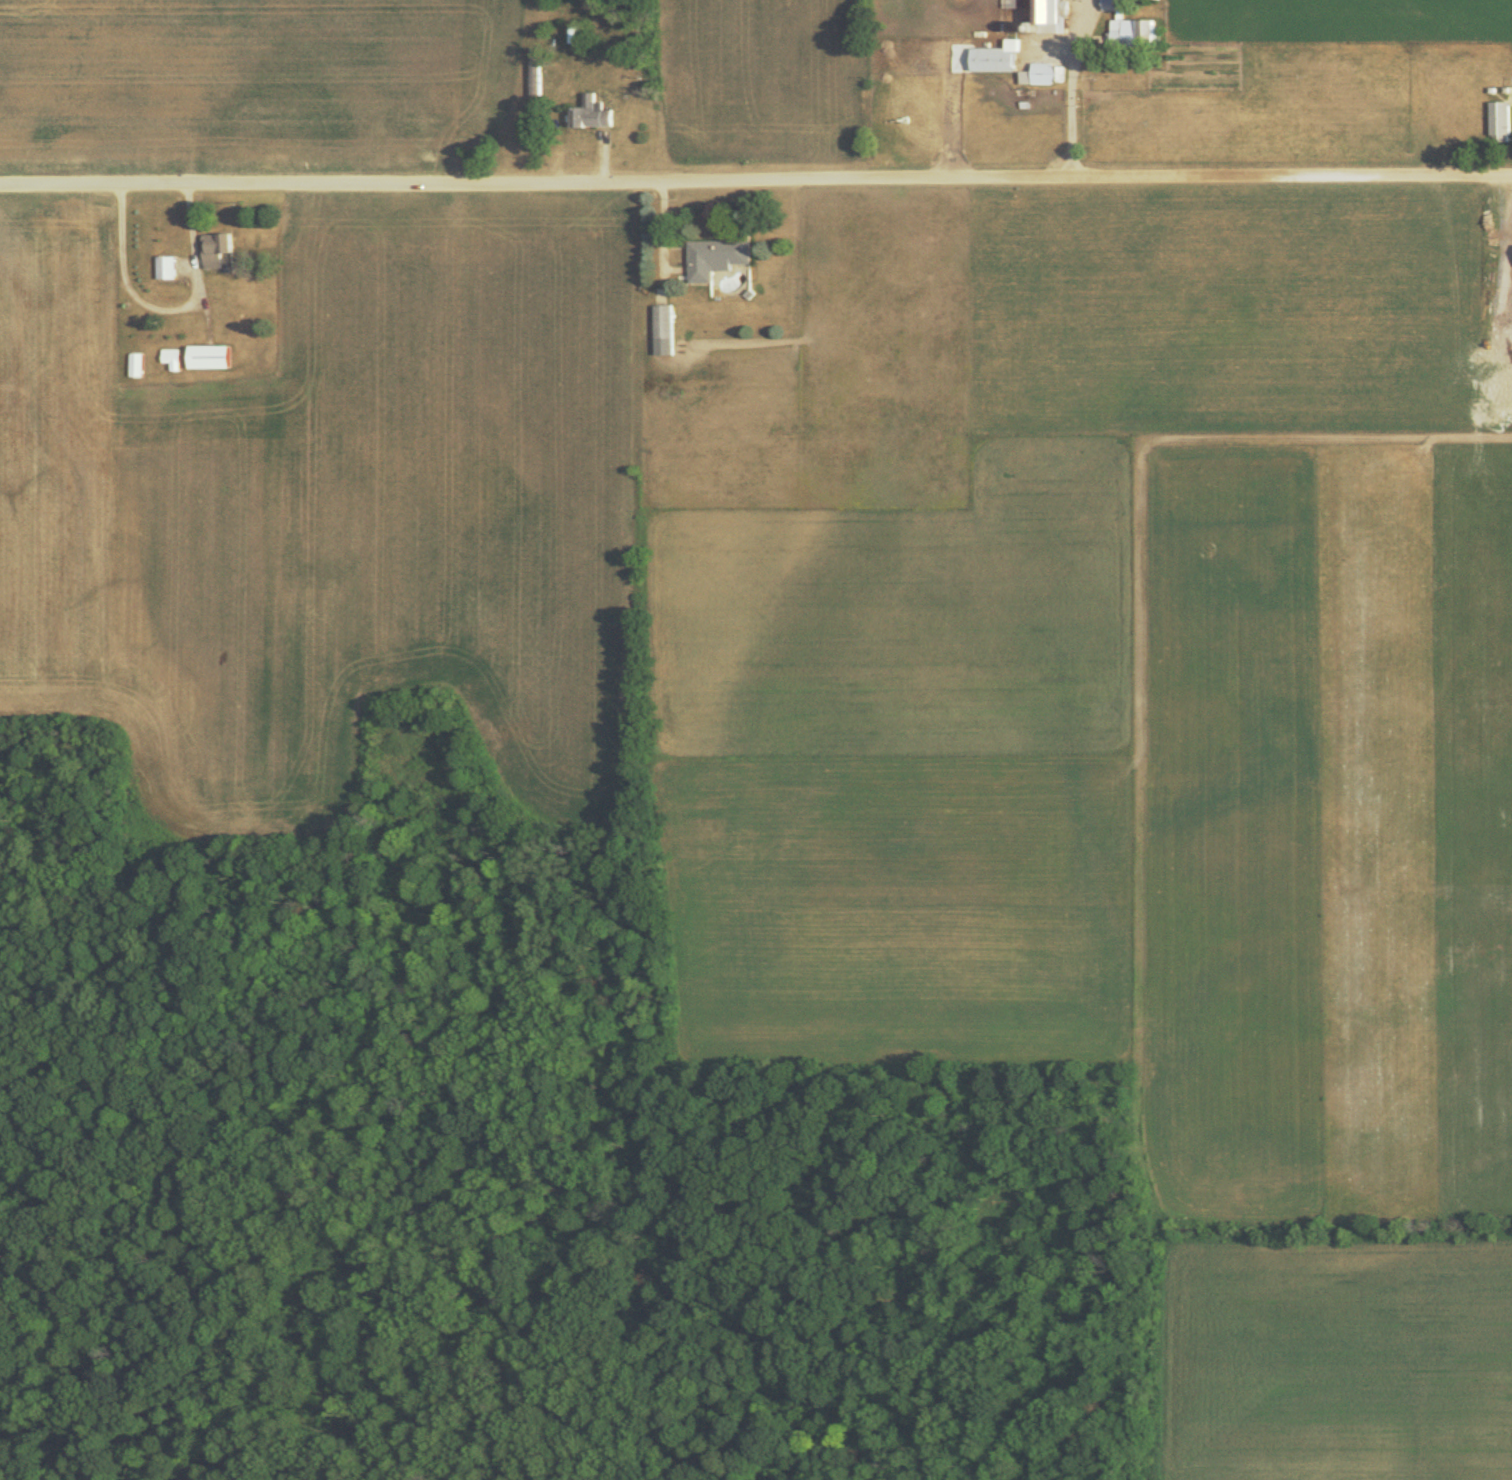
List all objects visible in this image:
building: (1043, 10)
building: (1127, 24)
building: (992, 55)
building: (1042, 72)
building: (590, 112)
building: (1498, 118)
road: (756, 179)
building: (214, 249)
building: (713, 255)
building: (164, 265)
building: (662, 328)
building: (207, 355)
building: (171, 356)

